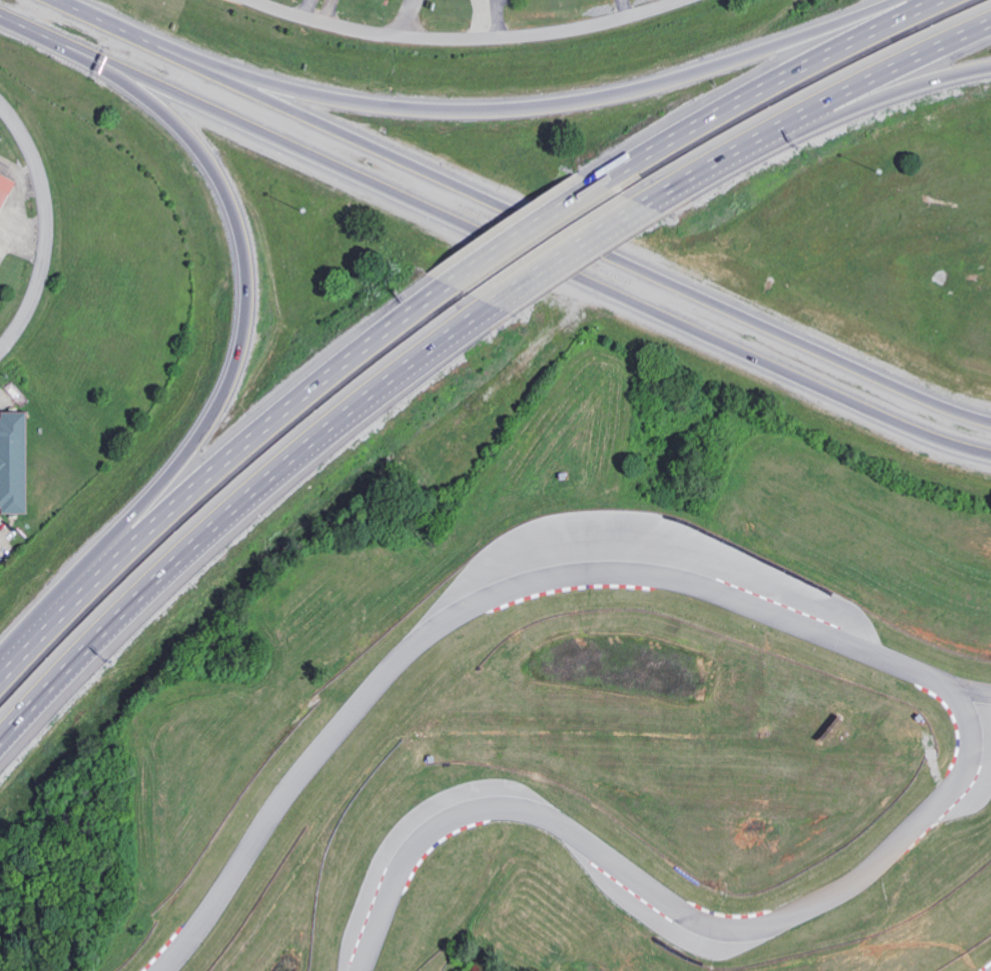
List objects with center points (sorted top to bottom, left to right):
road: (307, 8)
road: (625, 8)
road: (63, 9)
road: (328, 11)
road: (405, 18)
road: (495, 19)
road: (45, 32)
road: (470, 39)
road: (760, 87)
road: (491, 105)
road: (820, 116)
road: (843, 116)
building: (3, 185)
road: (535, 223)
road: (523, 227)
road: (45, 228)
road: (587, 255)
road: (538, 260)
road: (233, 369)
road: (217, 455)
building: (12, 462)
road: (245, 514)
raceway: (496, 581)
raceway: (669, 912)
raceway: (990, 970)

